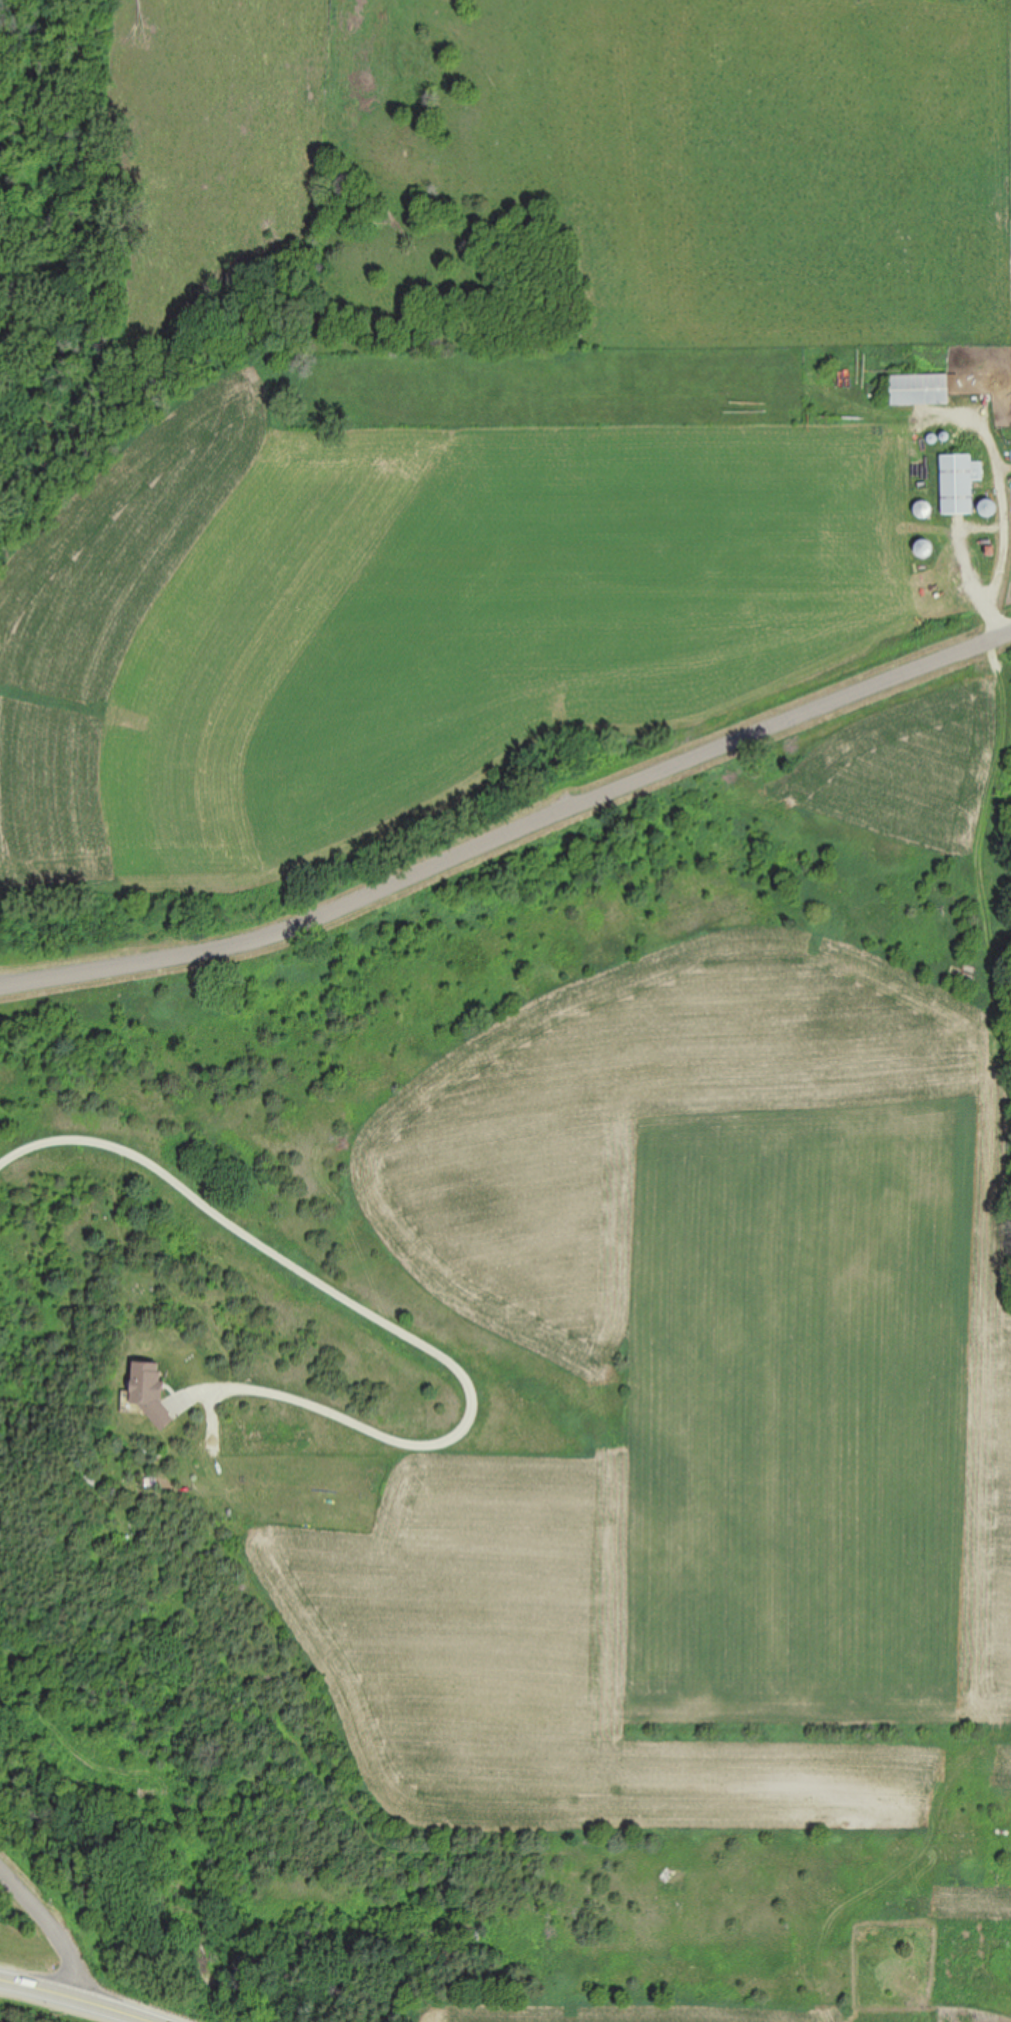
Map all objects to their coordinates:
building: (920, 390)
building: (959, 484)
building: (924, 510)
road: (1006, 510)
building: (924, 549)
road: (512, 840)
road: (373, 1315)
building: (150, 1390)
road: (50, 1931)
road: (73, 1997)
crop: (30, 2008)

